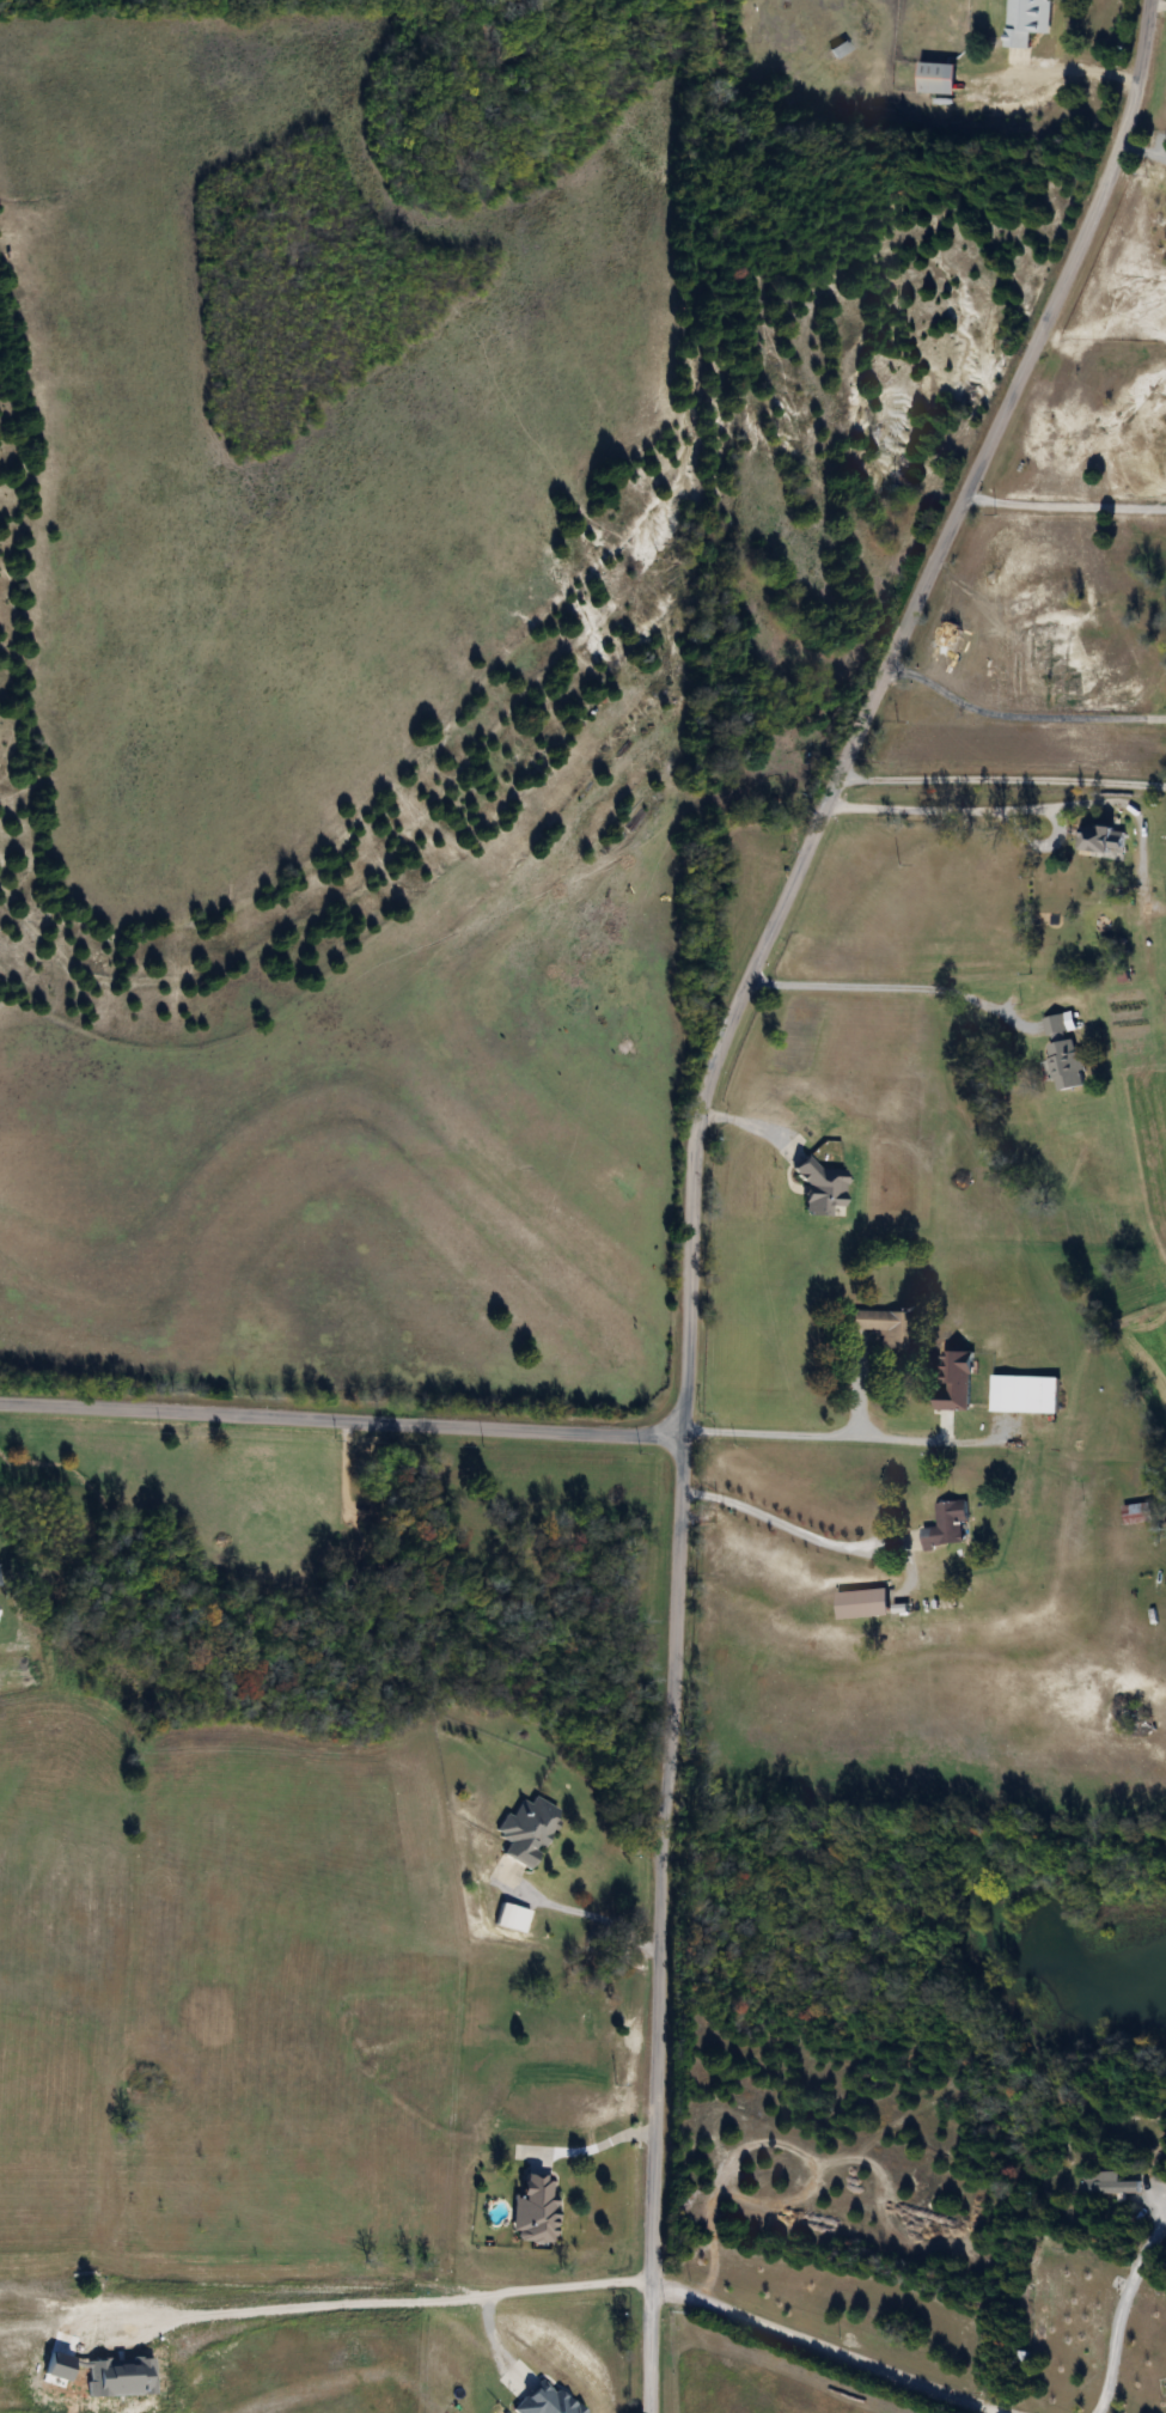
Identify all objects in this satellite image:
building: (1027, 20)
road: (1075, 69)
building: (938, 78)
road: (1064, 510)
road: (1021, 719)
road: (1000, 782)
road: (988, 814)
building: (1098, 841)
road: (889, 989)
building: (1055, 1025)
building: (1064, 1064)
road: (691, 1160)
building: (883, 1326)
building: (1024, 1393)
road: (341, 1420)
road: (768, 1432)
road: (344, 1476)
building: (1137, 1512)
building: (946, 1525)
road: (786, 1528)
building: (862, 1603)
building: (526, 1830)
road: (578, 1911)
building: (511, 1918)
road: (587, 2151)
building: (1107, 2183)
building: (535, 2210)
road: (538, 2290)
road: (342, 2296)
road: (1117, 2302)
road: (826, 2348)
road: (991, 2411)

